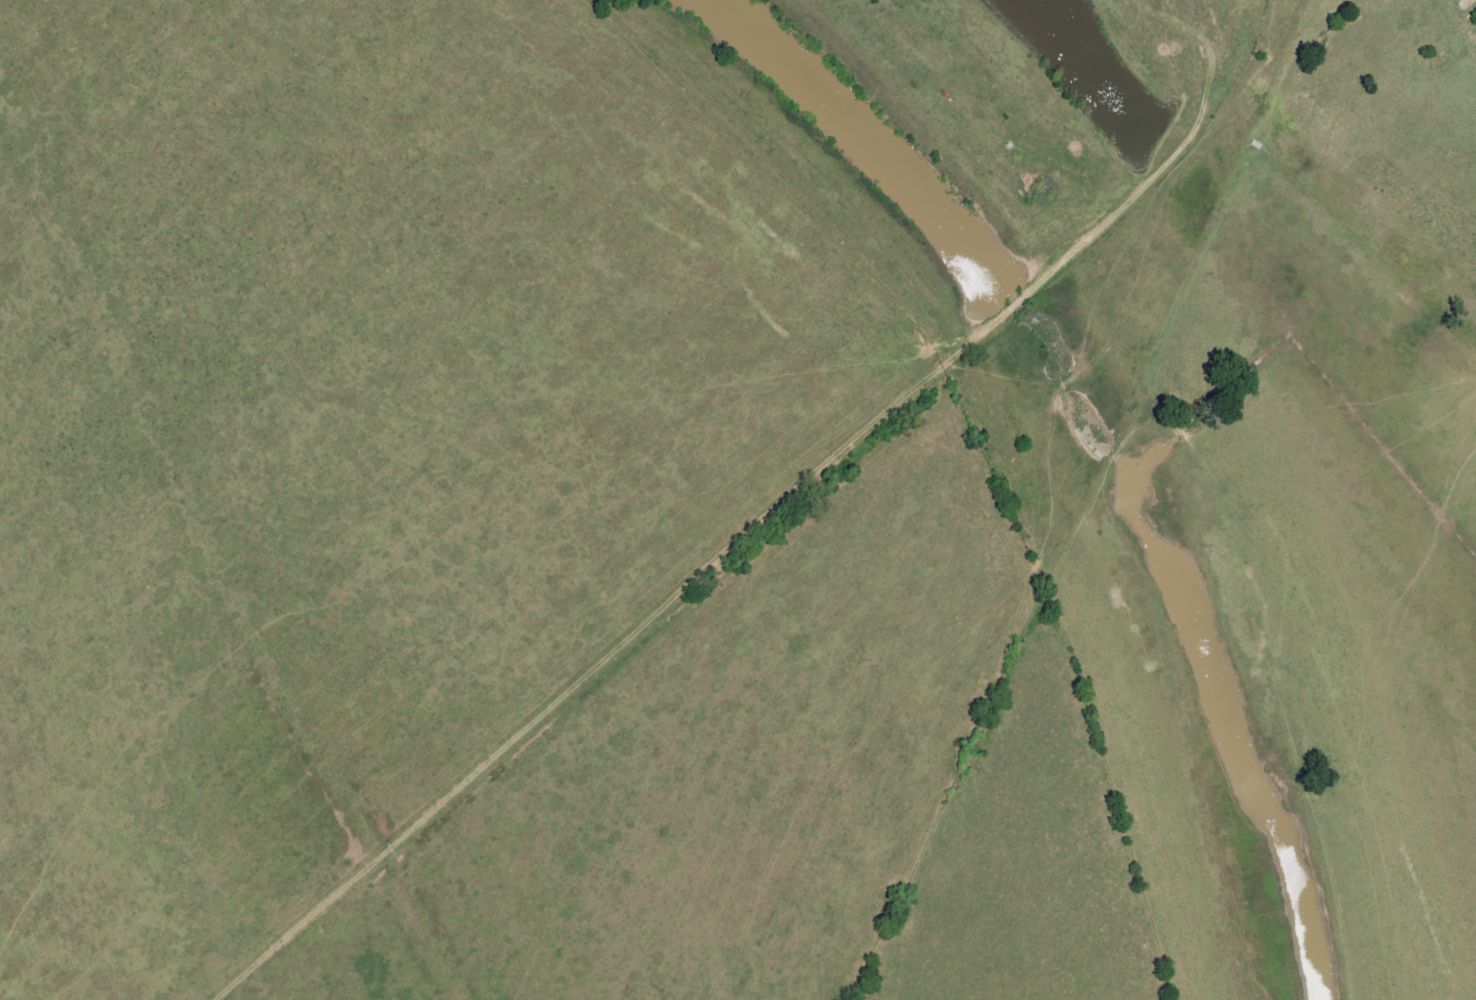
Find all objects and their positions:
road: (754, 519)

